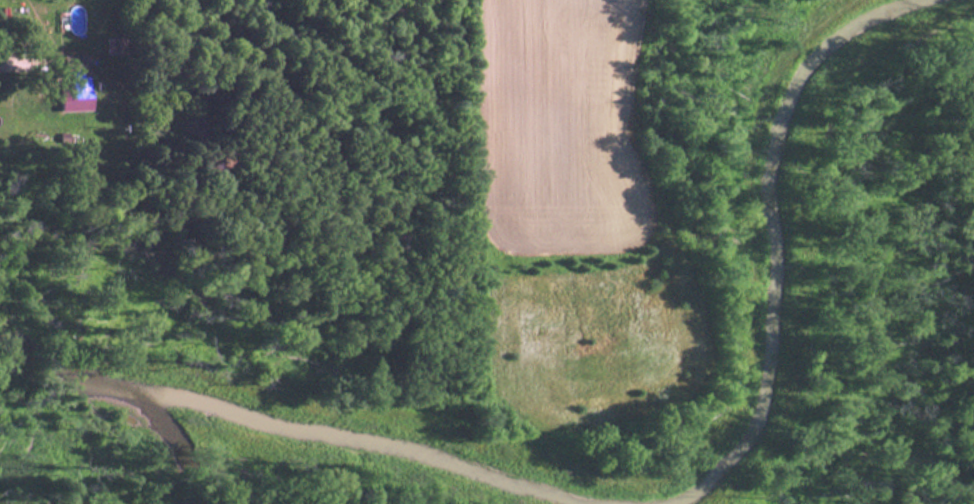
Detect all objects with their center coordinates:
building: (111, 45)
building: (74, 84)
river: (776, 238)
river: (68, 372)
river: (174, 446)
river: (367, 449)

